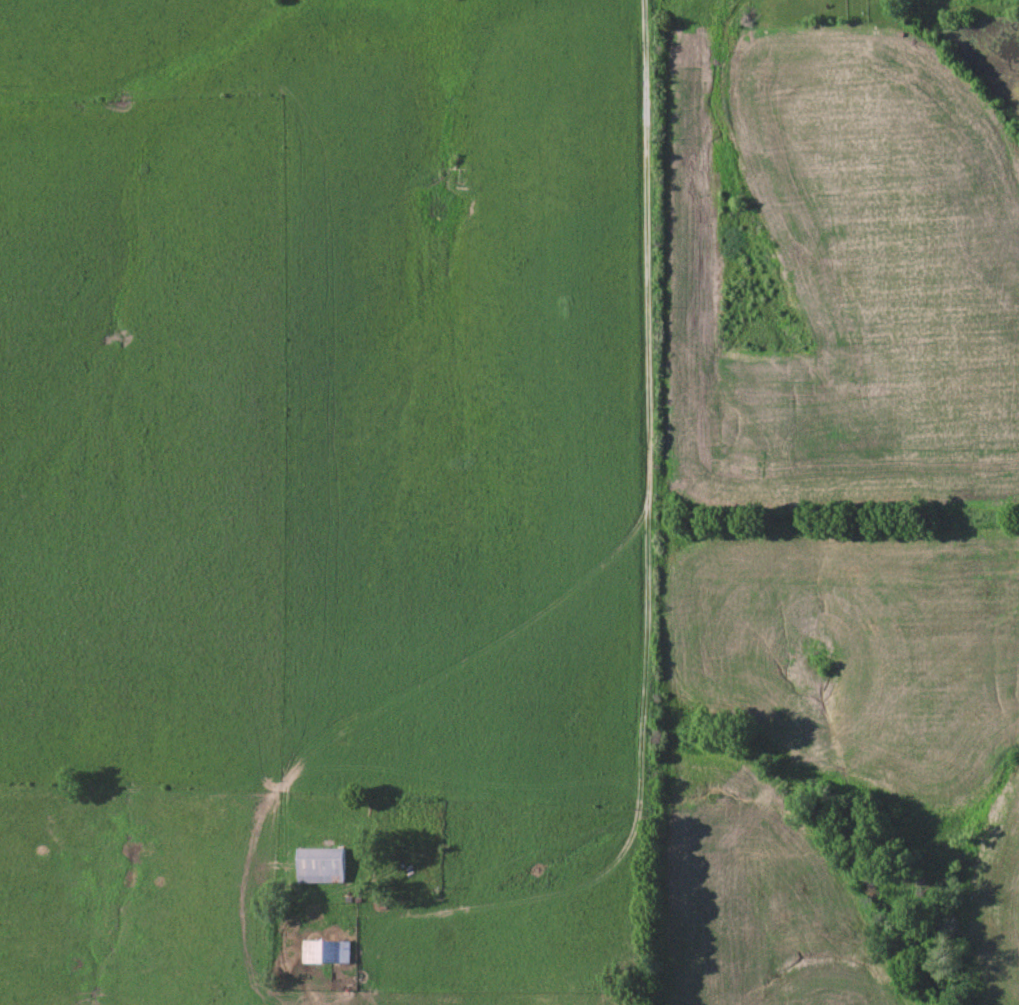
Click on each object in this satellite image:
road: (654, 451)
road: (410, 692)
building: (321, 864)
building: (327, 951)
park: (622, 982)

